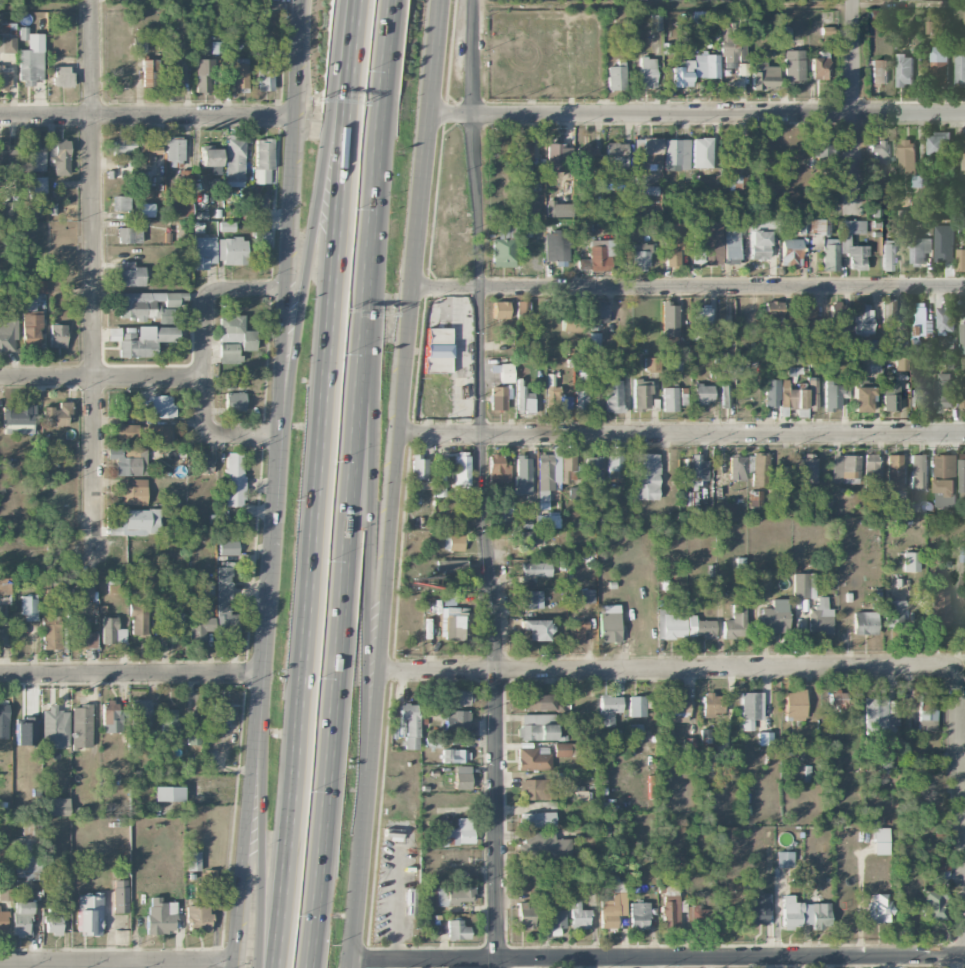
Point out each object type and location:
road: (720, 4)
building: (964, 18)
building: (699, 20)
building: (655, 21)
building: (8, 29)
building: (139, 44)
building: (8, 45)
road: (350, 46)
building: (730, 47)
road: (384, 52)
building: (30, 58)
road: (335, 59)
building: (793, 65)
building: (939, 65)
building: (707, 66)
building: (820, 67)
building: (960, 68)
building: (905, 69)
building: (647, 71)
building: (879, 71)
building: (150, 73)
building: (240, 73)
building: (202, 75)
building: (616, 75)
building: (683, 75)
building: (62, 76)
building: (765, 76)
building: (174, 77)
building: (4, 80)
building: (265, 80)
road: (854, 110)
road: (697, 114)
road: (148, 116)
building: (938, 143)
building: (822, 145)
building: (123, 147)
building: (174, 149)
building: (647, 150)
building: (147, 151)
building: (735, 151)
building: (524, 152)
building: (701, 152)
building: (879, 152)
building: (6, 153)
building: (676, 154)
building: (963, 154)
building: (37, 155)
building: (617, 155)
building: (907, 156)
building: (59, 157)
building: (557, 157)
building: (211, 159)
building: (234, 160)
building: (587, 160)
building: (263, 161)
building: (186, 175)
building: (531, 180)
building: (917, 180)
building: (38, 185)
building: (142, 185)
building: (831, 197)
building: (121, 203)
building: (145, 210)
building: (183, 210)
building: (8, 211)
building: (801, 226)
building: (226, 227)
building: (853, 227)
building: (124, 235)
building: (262, 237)
building: (759, 240)
building: (707, 243)
building: (504, 245)
building: (673, 245)
building: (731, 245)
building: (825, 245)
building: (557, 246)
building: (920, 249)
building: (231, 251)
building: (790, 251)
building: (203, 252)
building: (853, 253)
building: (601, 254)
building: (641, 254)
road: (306, 255)
building: (887, 255)
building: (961, 259)
road: (95, 268)
building: (130, 274)
road: (688, 288)
road: (207, 298)
building: (147, 305)
building: (500, 310)
building: (522, 311)
building: (773, 312)
building: (805, 312)
building: (888, 313)
building: (598, 314)
building: (837, 314)
building: (919, 318)
building: (862, 319)
building: (946, 319)
building: (670, 320)
building: (703, 321)
building: (567, 326)
building: (235, 332)
building: (7, 334)
building: (962, 334)
building: (816, 335)
building: (57, 336)
building: (593, 338)
building: (142, 340)
building: (915, 343)
building: (871, 347)
building: (438, 350)
building: (228, 352)
building: (652, 364)
building: (870, 365)
building: (925, 365)
building: (506, 372)
road: (149, 378)
road: (47, 379)
building: (228, 381)
building: (725, 391)
building: (944, 391)
building: (771, 392)
building: (703, 393)
building: (813, 393)
building: (641, 394)
building: (552, 395)
building: (962, 395)
building: (595, 396)
building: (612, 396)
building: (791, 396)
building: (834, 396)
building: (890, 396)
building: (498, 398)
building: (581, 399)
building: (669, 399)
building: (861, 399)
building: (919, 400)
building: (234, 401)
building: (156, 407)
road: (206, 409)
building: (56, 415)
building: (18, 419)
building: (123, 432)
building: (156, 435)
road: (681, 435)
building: (128, 461)
building: (203, 464)
building: (749, 464)
building: (419, 467)
building: (615, 467)
building: (695, 467)
building: (737, 467)
building: (461, 468)
building: (568, 468)
building: (808, 468)
building: (845, 468)
building: (499, 469)
building: (593, 469)
building: (759, 469)
building: (871, 469)
building: (919, 471)
building: (895, 472)
building: (961, 472)
road: (369, 473)
building: (440, 473)
building: (547, 474)
building: (522, 475)
building: (646, 476)
building: (234, 479)
building: (945, 480)
road: (394, 483)
road: (274, 484)
road: (484, 484)
building: (134, 491)
building: (755, 498)
building: (505, 505)
building: (825, 506)
building: (140, 521)
road: (313, 530)
road: (345, 536)
building: (527, 539)
building: (453, 543)
building: (228, 548)
building: (910, 561)
building: (451, 566)
building: (536, 569)
building: (146, 575)
building: (803, 585)
building: (113, 587)
building: (209, 589)
building: (4, 591)
building: (82, 592)
building: (586, 596)
building: (531, 599)
building: (448, 603)
building: (225, 606)
building: (29, 607)
building: (938, 610)
building: (894, 612)
building: (775, 616)
building: (820, 618)
building: (138, 619)
building: (170, 621)
building: (735, 622)
building: (609, 623)
building: (865, 623)
building: (670, 624)
building: (200, 625)
building: (456, 626)
building: (699, 627)
building: (536, 629)
building: (51, 631)
building: (576, 631)
building: (112, 632)
building: (82, 635)
building: (1, 636)
road: (670, 670)
road: (130, 671)
building: (458, 697)
building: (837, 698)
building: (536, 699)
building: (712, 705)
building: (794, 705)
building: (636, 706)
building: (609, 709)
building: (676, 709)
building: (751, 709)
building: (140, 713)
building: (878, 713)
building: (221, 714)
building: (926, 715)
building: (111, 716)
building: (3, 719)
road: (962, 720)
building: (455, 721)
building: (169, 723)
building: (410, 725)
building: (82, 726)
building: (55, 727)
building: (536, 727)
building: (635, 733)
building: (193, 736)
building: (705, 743)
building: (689, 744)
building: (562, 749)
building: (453, 756)
building: (532, 759)
building: (885, 765)
building: (462, 777)
building: (534, 789)
building: (168, 793)
building: (581, 795)
building: (55, 806)
building: (537, 819)
building: (458, 833)
building: (880, 841)
building: (543, 845)
road: (259, 847)
building: (25, 851)
building: (784, 859)
building: (193, 861)
building: (941, 868)
building: (207, 876)
building: (62, 881)
building: (5, 894)
building: (455, 895)
building: (120, 896)
building: (411, 902)
building: (933, 906)
building: (878, 908)
building: (612, 909)
building: (756, 909)
building: (670, 911)
building: (790, 913)
building: (89, 914)
building: (816, 914)
building: (525, 915)
building: (638, 915)
building: (160, 916)
building: (578, 916)
building: (698, 917)
building: (21, 918)
building: (198, 918)
road: (350, 919)
building: (554, 919)
building: (3, 920)
building: (52, 920)
building: (456, 930)
road: (658, 959)
road: (116, 961)
road: (107, 965)

